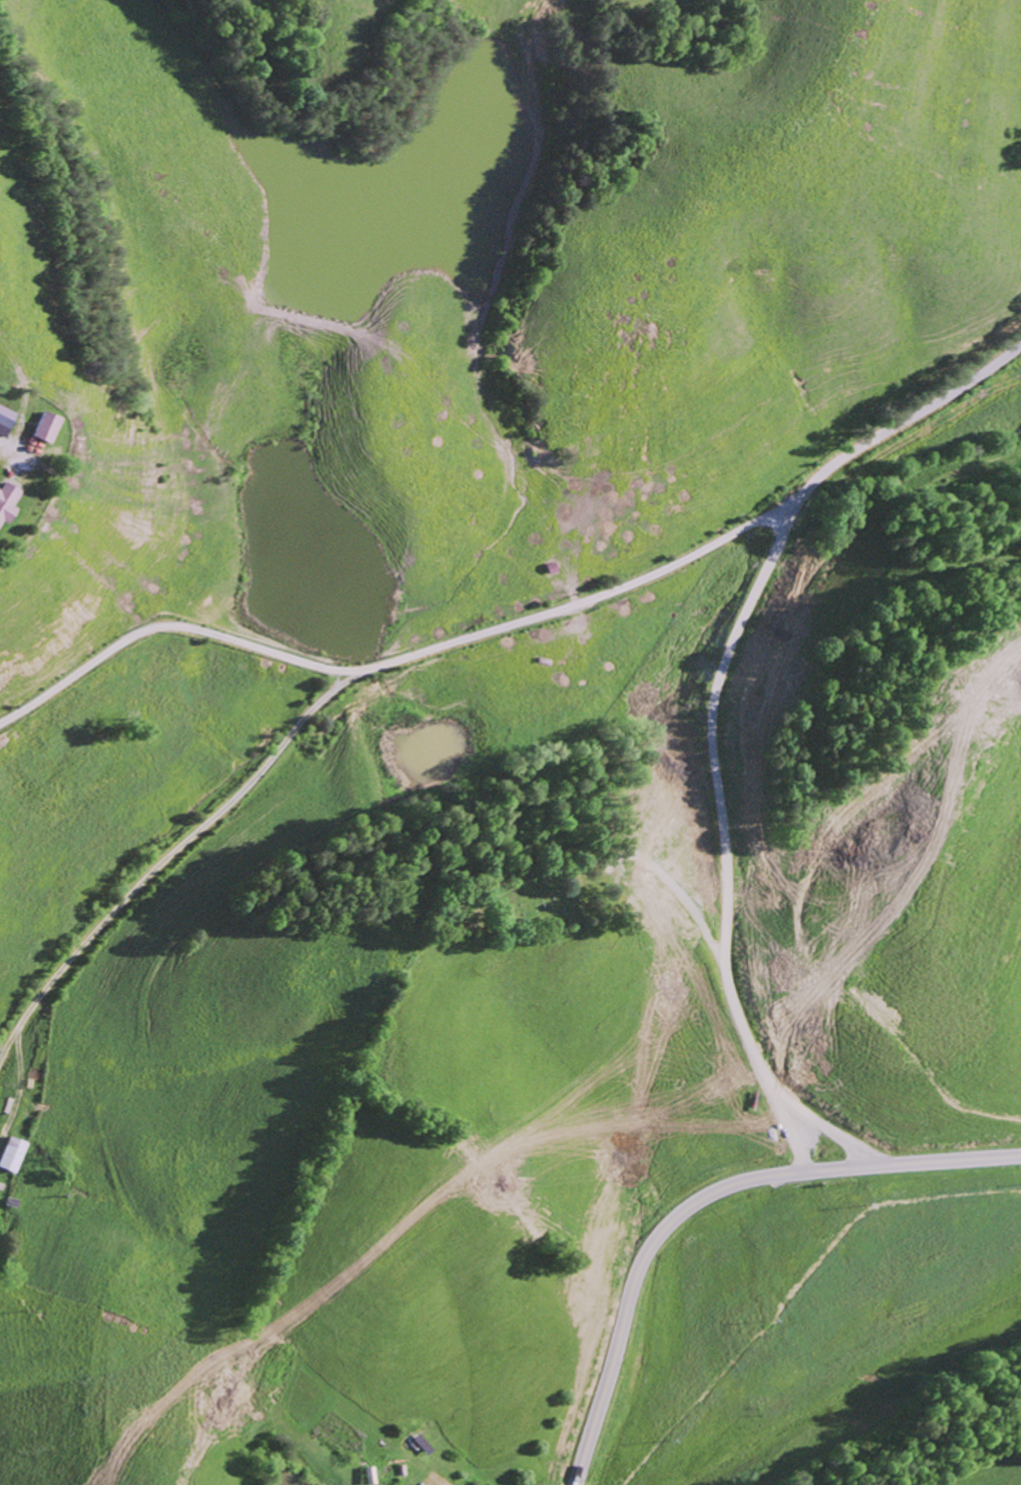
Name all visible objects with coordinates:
building: (5, 419)
building: (46, 426)
road: (743, 619)
road: (777, 1060)
road: (583, 1133)
building: (12, 1154)
road: (909, 1158)
road: (645, 1260)
building: (420, 1441)

